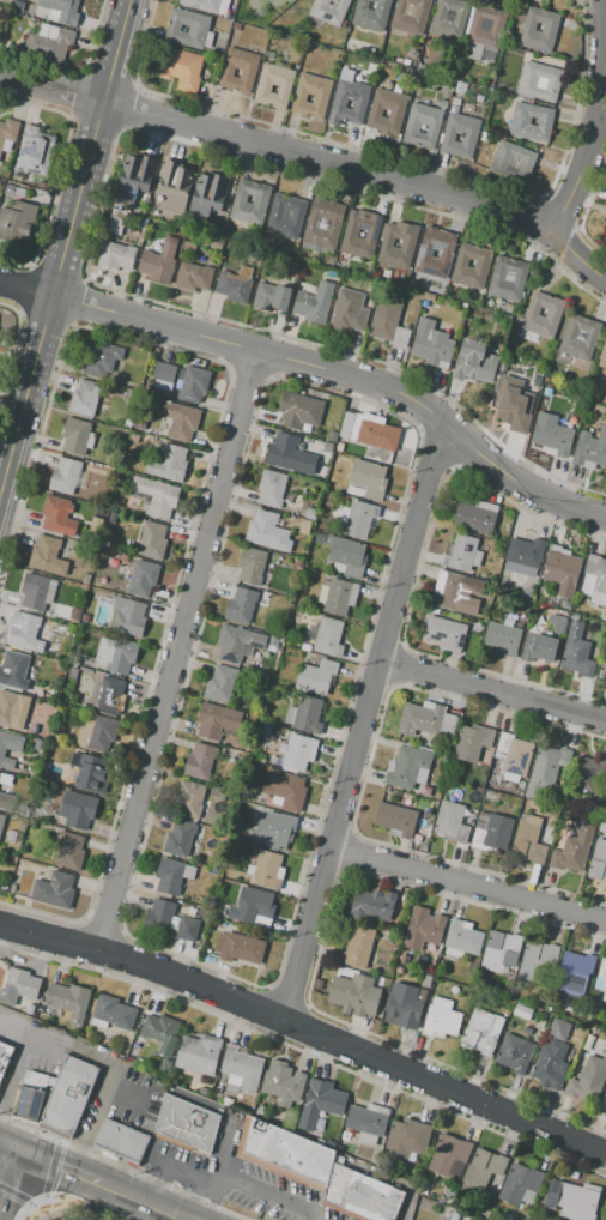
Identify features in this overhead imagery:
building: (201, 5)
building: (328, 10)
building: (60, 11)
building: (370, 13)
building: (410, 16)
building: (449, 18)
building: (196, 29)
building: (484, 31)
building: (549, 31)
building: (48, 41)
building: (180, 67)
building: (238, 70)
building: (422, 76)
building: (539, 81)
building: (273, 84)
road: (53, 87)
building: (460, 87)
building: (311, 95)
building: (478, 98)
building: (347, 99)
building: (455, 101)
building: (443, 103)
building: (395, 110)
building: (474, 111)
road: (596, 120)
building: (520, 121)
building: (412, 128)
building: (7, 133)
building: (469, 138)
building: (32, 152)
building: (511, 162)
road: (364, 169)
building: (133, 177)
building: (28, 181)
building: (1, 183)
building: (175, 187)
building: (14, 191)
building: (207, 197)
building: (144, 199)
building: (260, 199)
building: (285, 216)
building: (17, 222)
building: (116, 222)
building: (333, 223)
building: (350, 234)
building: (605, 240)
building: (407, 243)
road: (66, 246)
building: (189, 246)
building: (216, 246)
building: (116, 255)
building: (425, 258)
building: (158, 262)
building: (481, 264)
building: (331, 273)
building: (387, 273)
building: (194, 277)
building: (507, 278)
building: (234, 286)
road: (26, 290)
building: (271, 296)
building: (430, 297)
building: (313, 302)
building: (349, 312)
building: (553, 312)
building: (0, 318)
building: (388, 325)
building: (580, 337)
building: (431, 343)
building: (602, 356)
building: (99, 357)
building: (474, 362)
road: (344, 375)
building: (164, 376)
building: (192, 383)
building: (85, 398)
building: (511, 401)
building: (298, 411)
building: (178, 421)
building: (139, 424)
building: (369, 430)
building: (551, 434)
building: (77, 436)
building: (332, 436)
building: (133, 437)
building: (327, 447)
building: (339, 447)
building: (590, 449)
building: (289, 455)
building: (168, 464)
building: (65, 475)
building: (366, 481)
building: (271, 488)
building: (77, 495)
building: (156, 496)
building: (328, 499)
building: (116, 503)
building: (310, 514)
building: (475, 515)
building: (57, 517)
building: (358, 519)
building: (95, 525)
building: (304, 526)
building: (267, 531)
building: (152, 540)
building: (345, 554)
building: (462, 554)
building: (525, 554)
building: (48, 555)
building: (123, 557)
building: (250, 566)
building: (562, 570)
building: (141, 578)
building: (595, 580)
building: (450, 590)
building: (37, 592)
building: (337, 596)
building: (241, 605)
building: (564, 605)
building: (74, 614)
building: (85, 617)
building: (127, 617)
building: (557, 623)
building: (26, 633)
building: (444, 633)
building: (327, 636)
building: (502, 638)
building: (271, 641)
building: (237, 642)
building: (305, 647)
building: (539, 647)
building: (576, 651)
road: (175, 652)
building: (116, 654)
building: (71, 668)
building: (602, 668)
building: (13, 669)
building: (316, 676)
building: (220, 682)
road: (490, 693)
building: (109, 695)
building: (12, 709)
building: (304, 714)
building: (426, 719)
building: (216, 720)
road: (360, 720)
building: (265, 729)
building: (96, 733)
building: (54, 737)
building: (472, 742)
building: (8, 749)
building: (298, 751)
building: (511, 755)
building: (199, 761)
building: (407, 768)
building: (545, 772)
building: (588, 773)
building: (91, 774)
building: (5, 780)
building: (521, 785)
building: (284, 790)
building: (424, 790)
building: (517, 791)
building: (491, 796)
building: (189, 798)
building: (5, 801)
building: (429, 808)
building: (77, 810)
building: (395, 820)
building: (1, 822)
building: (450, 822)
building: (601, 827)
building: (273, 829)
building: (491, 832)
building: (416, 838)
building: (178, 839)
building: (527, 839)
building: (574, 848)
building: (69, 851)
building: (598, 860)
building: (188, 870)
building: (267, 870)
building: (169, 876)
road: (467, 883)
building: (54, 890)
building: (255, 905)
building: (371, 905)
building: (158, 917)
building: (187, 929)
building: (423, 930)
building: (462, 938)
building: (356, 947)
building: (238, 948)
building: (499, 949)
building: (404, 959)
building: (535, 960)
building: (575, 968)
building: (399, 971)
building: (601, 978)
building: (426, 982)
building: (20, 988)
building: (353, 995)
building: (68, 1001)
building: (404, 1007)
building: (547, 1008)
building: (30, 1009)
building: (521, 1011)
building: (111, 1013)
building: (441, 1019)
building: (539, 1022)
building: (558, 1029)
building: (158, 1031)
road: (305, 1031)
building: (481, 1032)
building: (605, 1052)
building: (514, 1053)
building: (199, 1055)
building: (4, 1056)
road: (109, 1064)
building: (165, 1064)
building: (550, 1065)
building: (241, 1068)
road: (14, 1073)
building: (588, 1079)
building: (284, 1086)
building: (217, 1091)
building: (204, 1092)
building: (30, 1095)
building: (68, 1097)
building: (226, 1101)
road: (204, 1103)
building: (604, 1103)
building: (320, 1104)
building: (261, 1111)
building: (368, 1122)
building: (187, 1123)
building: (121, 1140)
building: (406, 1140)
road: (7, 1144)
traffic signals: (14, 1148)
building: (449, 1156)
road: (57, 1166)
road: (180, 1168)
building: (319, 1172)
building: (483, 1173)
road: (7, 1177)
road: (205, 1178)
building: (520, 1185)
road: (248, 1188)
building: (423, 1190)
road: (119, 1191)
building: (571, 1200)
road: (85, 1203)
road: (162, 1208)
building: (454, 1216)
building: (468, 1218)

